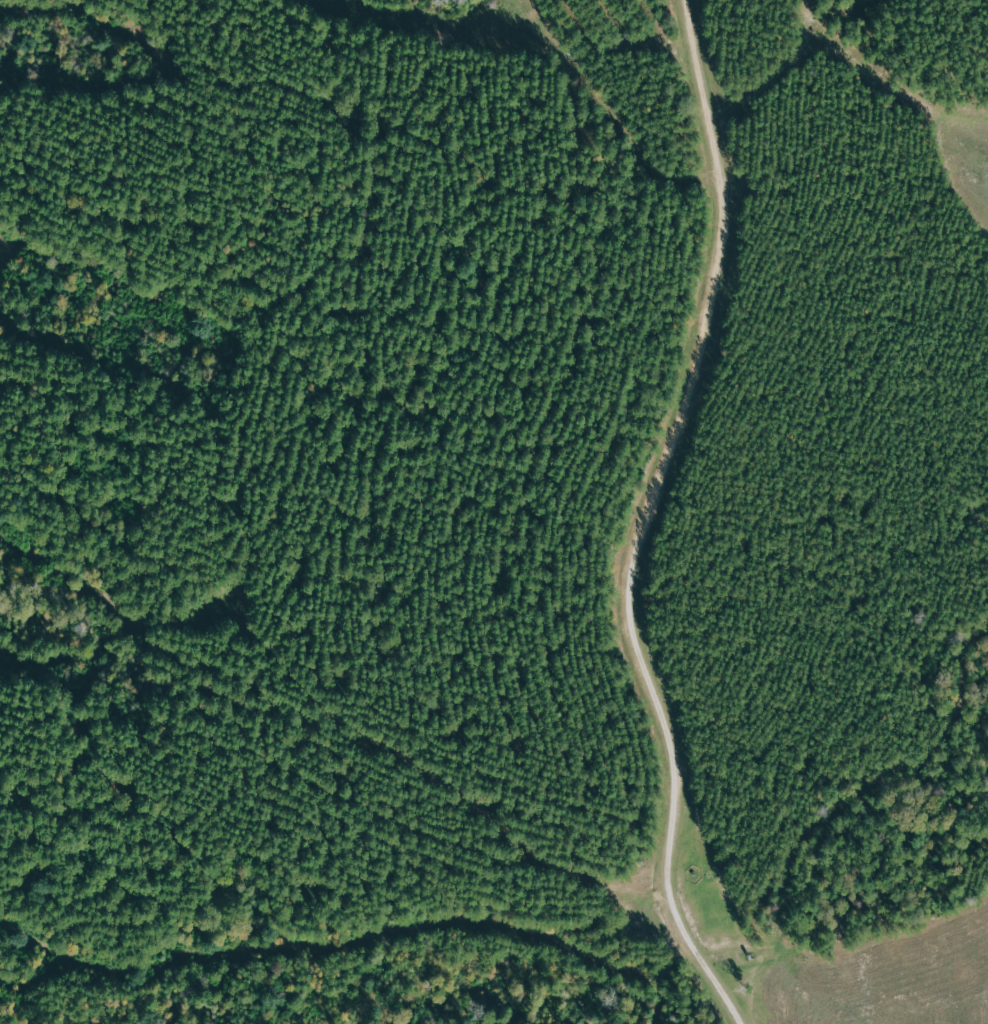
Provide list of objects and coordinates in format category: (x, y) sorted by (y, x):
road: (642, 519)

